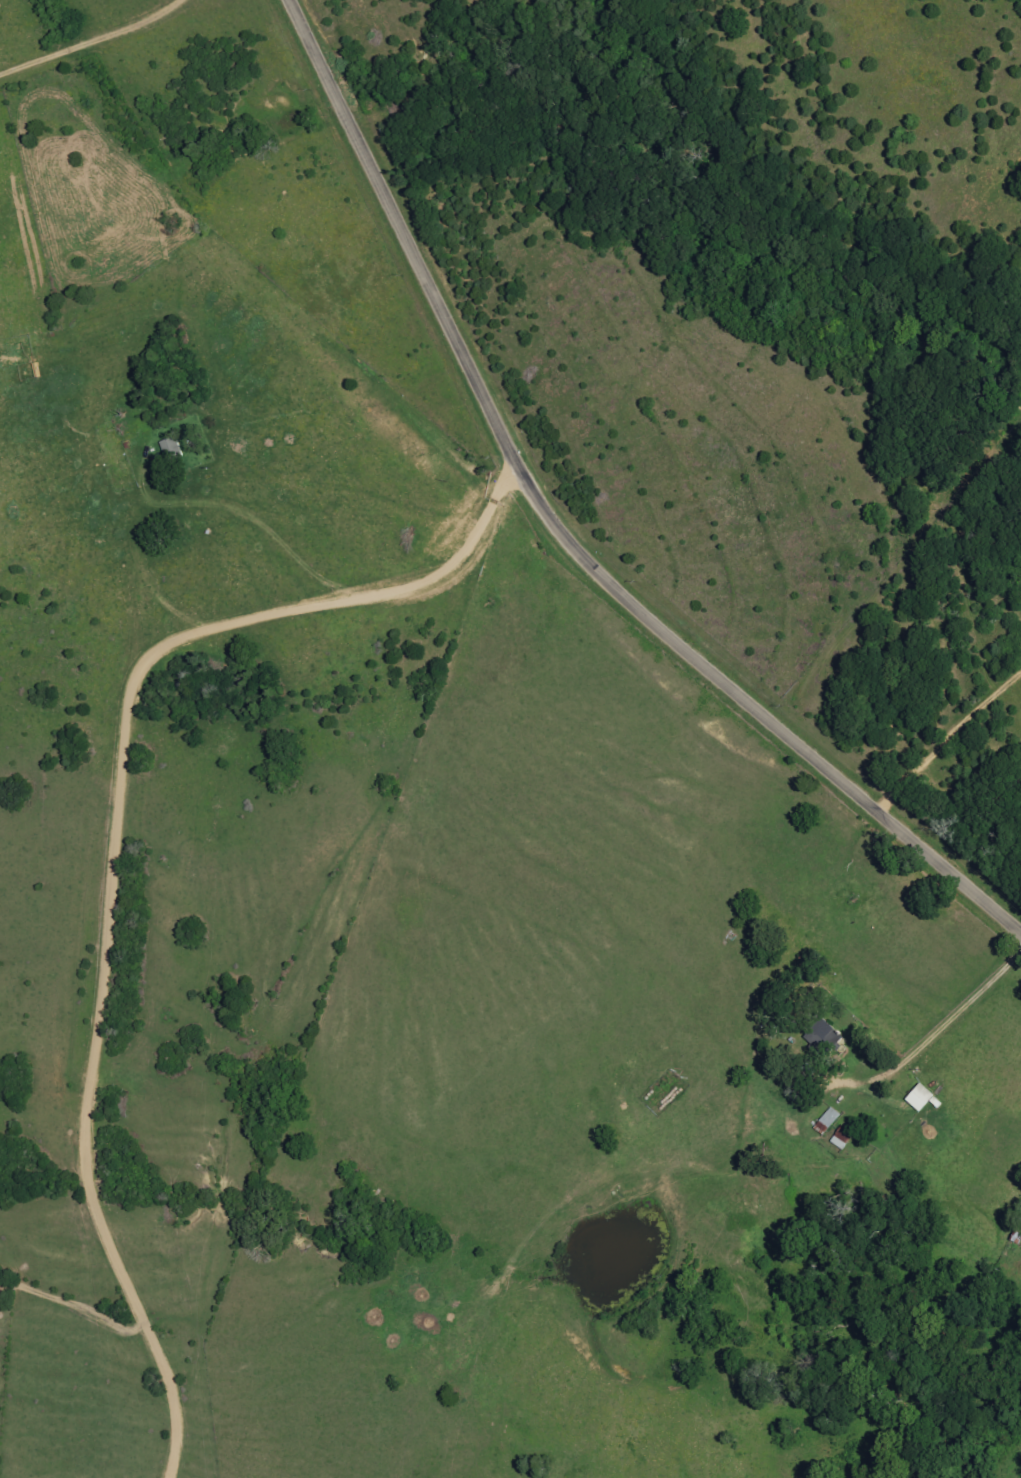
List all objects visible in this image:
building: (172, 449)
road: (565, 534)
road: (943, 733)
road: (114, 848)
road: (954, 1007)
building: (823, 1036)
building: (920, 1098)
building: (828, 1120)
building: (842, 1137)
road: (70, 1297)

